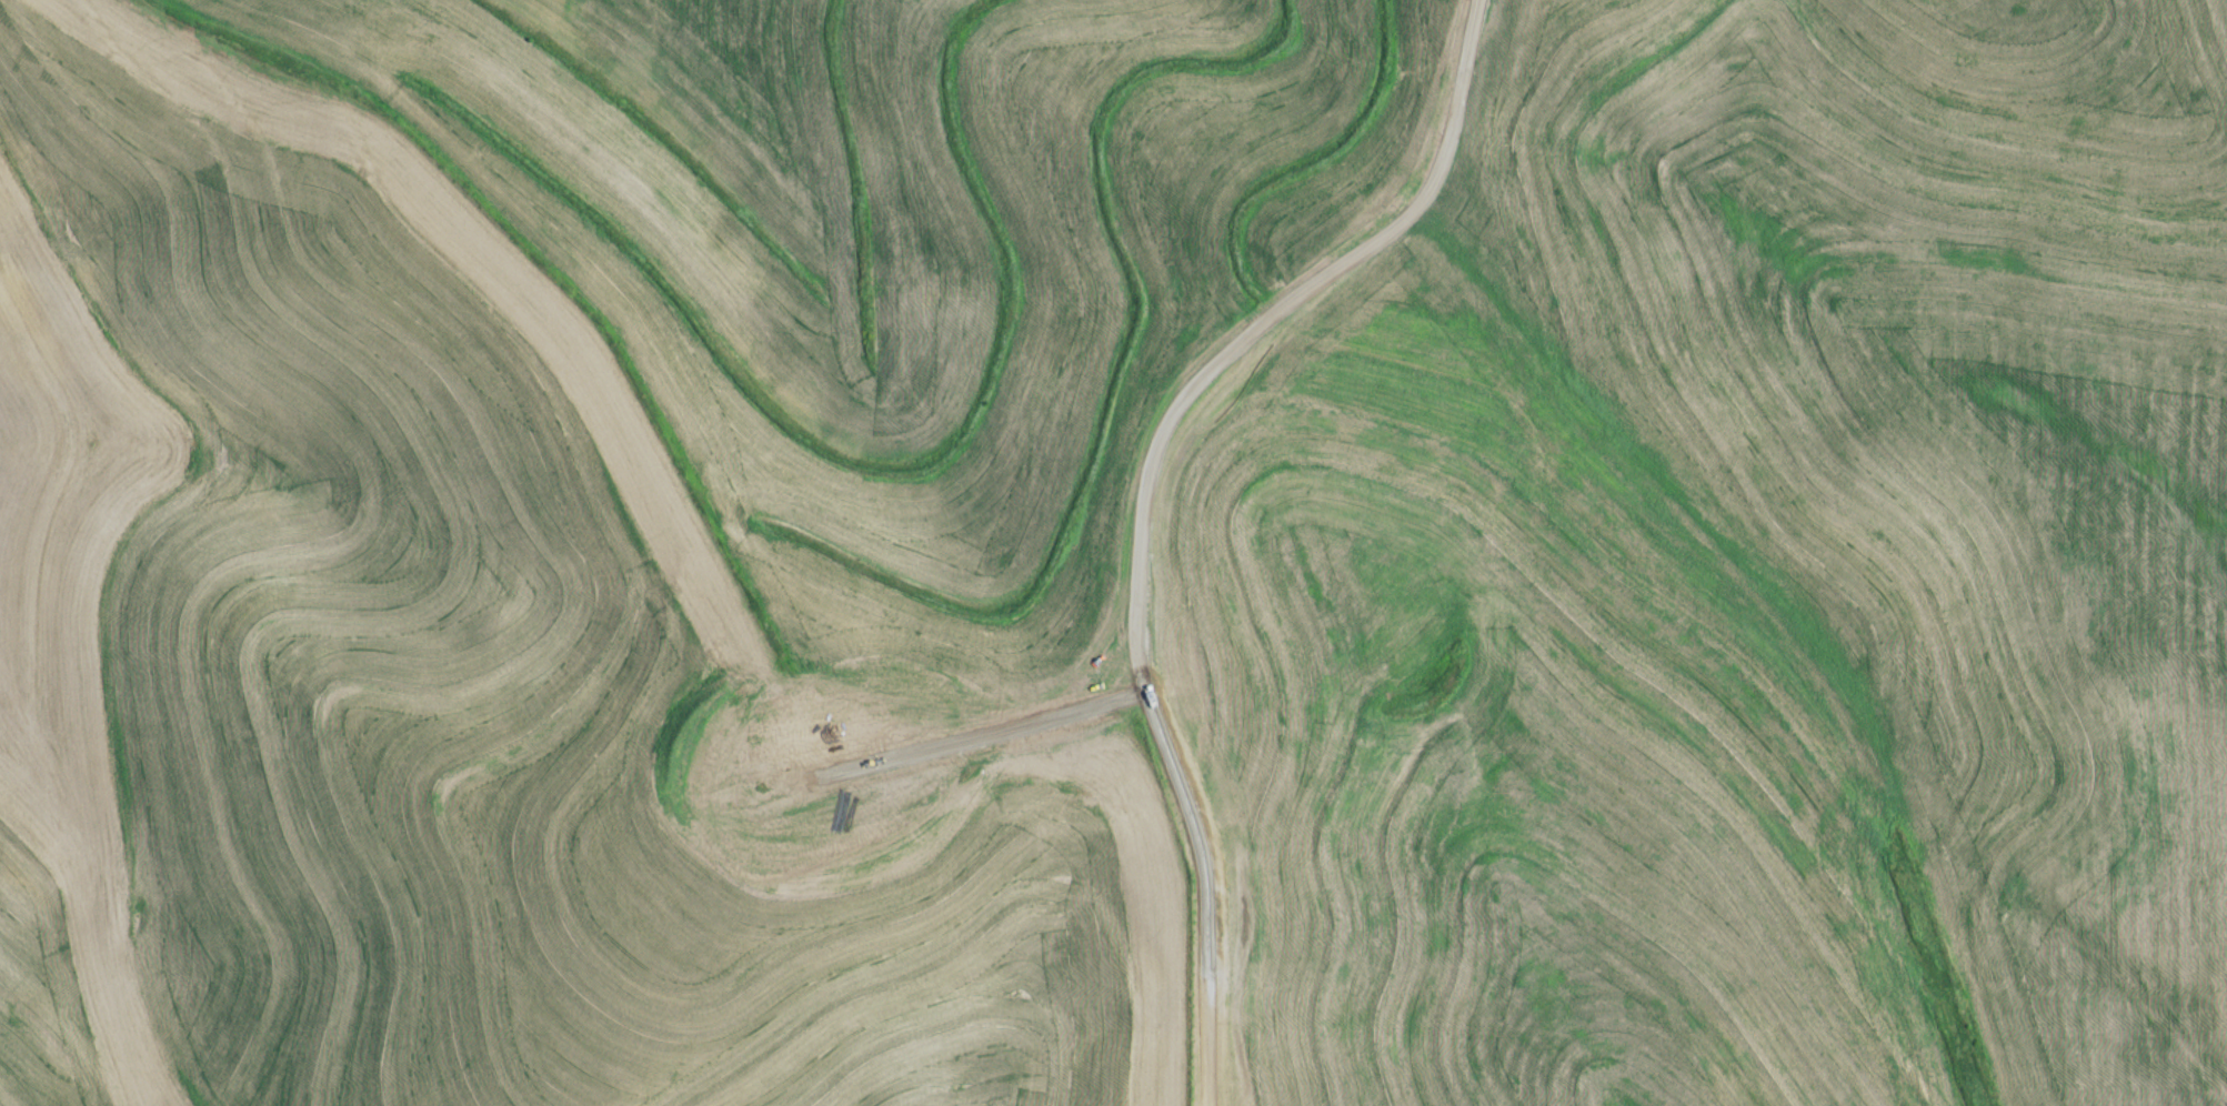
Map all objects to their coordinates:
road: (1147, 492)
wind turbine: (792, 767)

